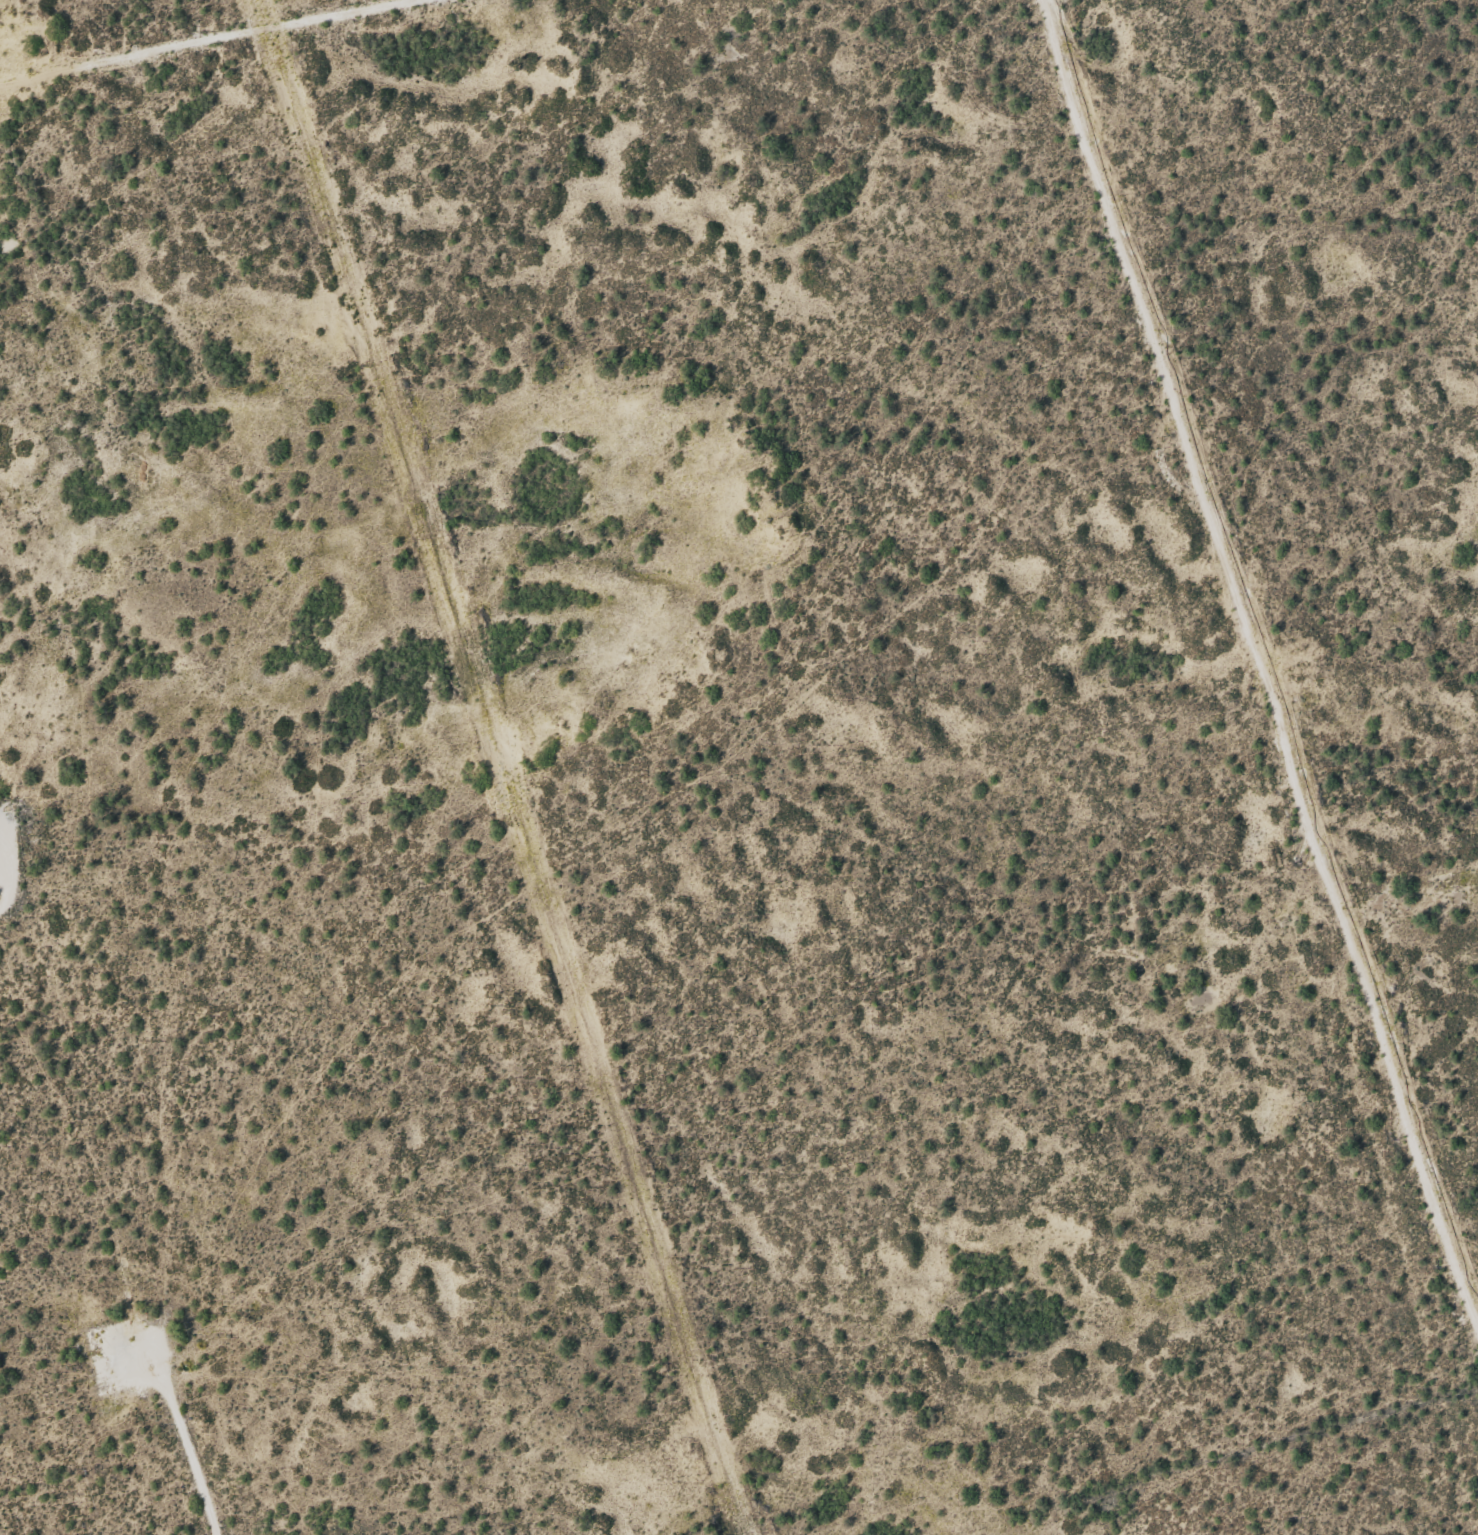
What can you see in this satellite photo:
road: (247, 43)
road: (1255, 662)
road: (2, 887)
road: (1305, 1446)

